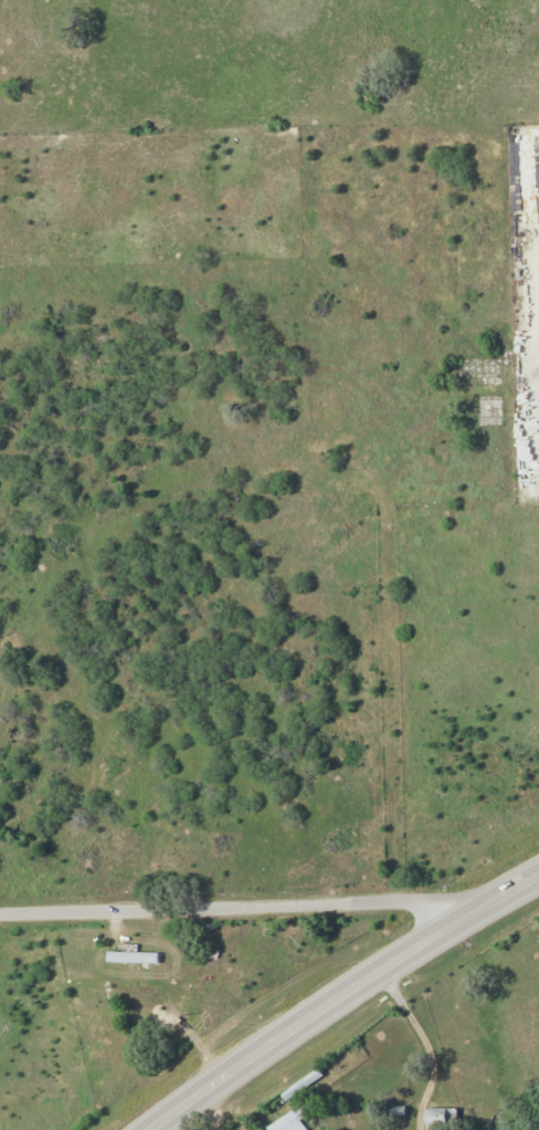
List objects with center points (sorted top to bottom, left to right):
road: (537, 311)
road: (538, 365)
road: (393, 679)
road: (535, 886)
road: (265, 901)
road: (342, 930)
building: (135, 958)
road: (494, 976)
road: (336, 995)
road: (156, 1061)
building: (293, 1119)

